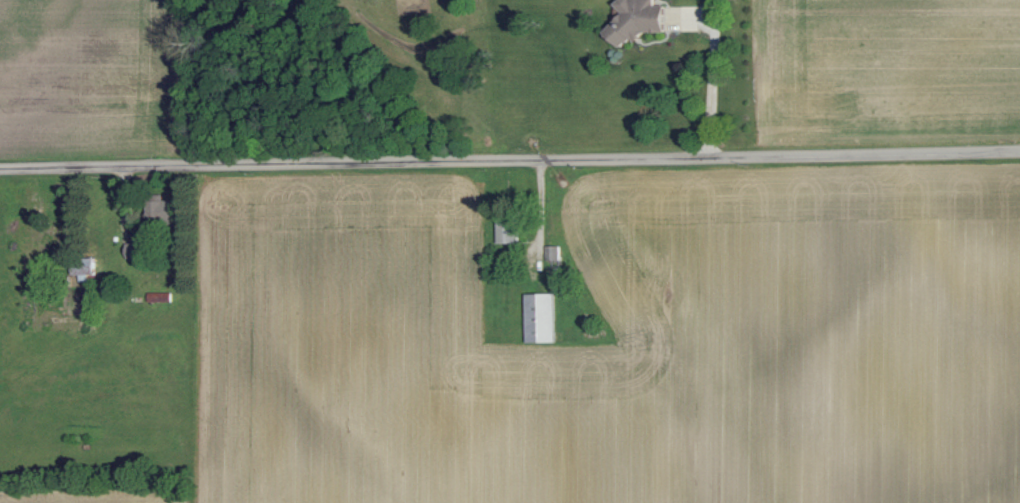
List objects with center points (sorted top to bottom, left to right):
building: (638, 19)
crop: (890, 70)
crop: (99, 77)
road: (712, 78)
road: (510, 161)
building: (506, 230)
building: (132, 249)
building: (552, 253)
building: (83, 266)
building: (159, 297)
building: (539, 318)

